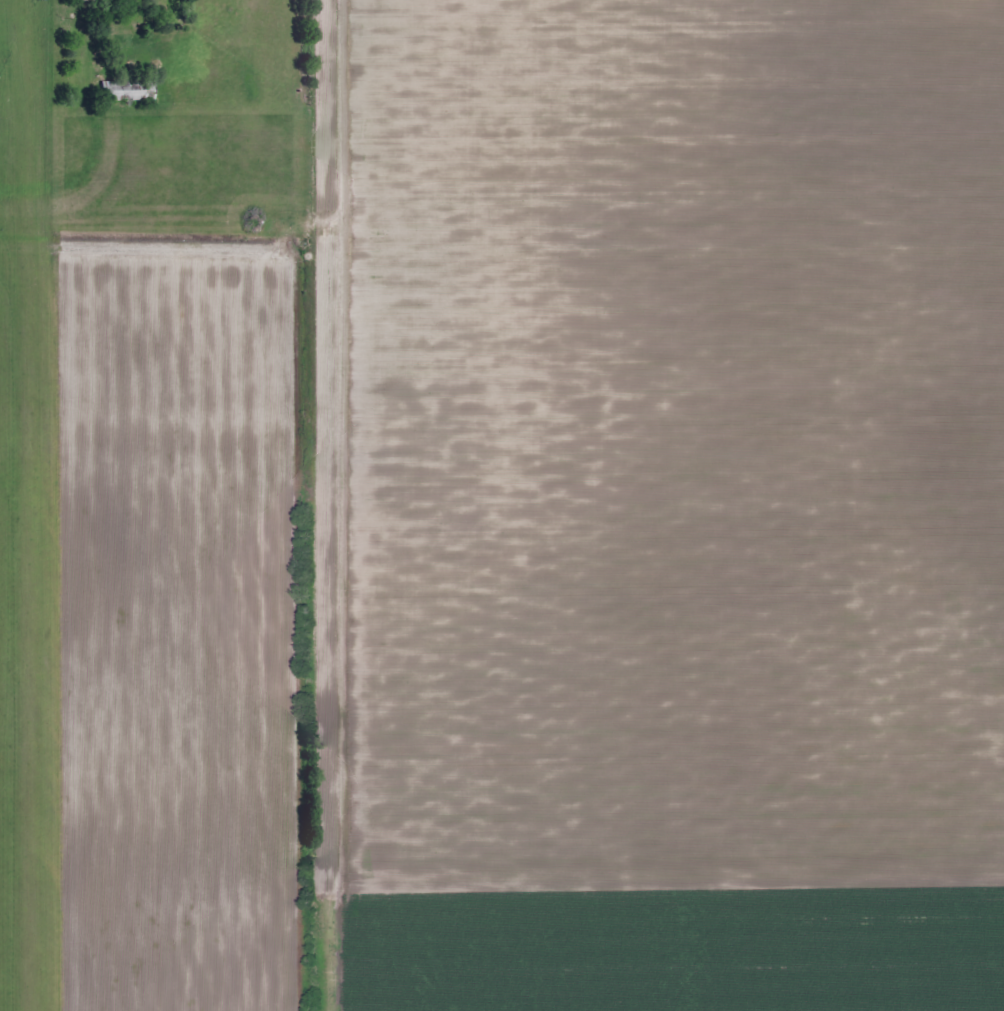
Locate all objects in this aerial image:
building: (126, 89)
road: (301, 779)

